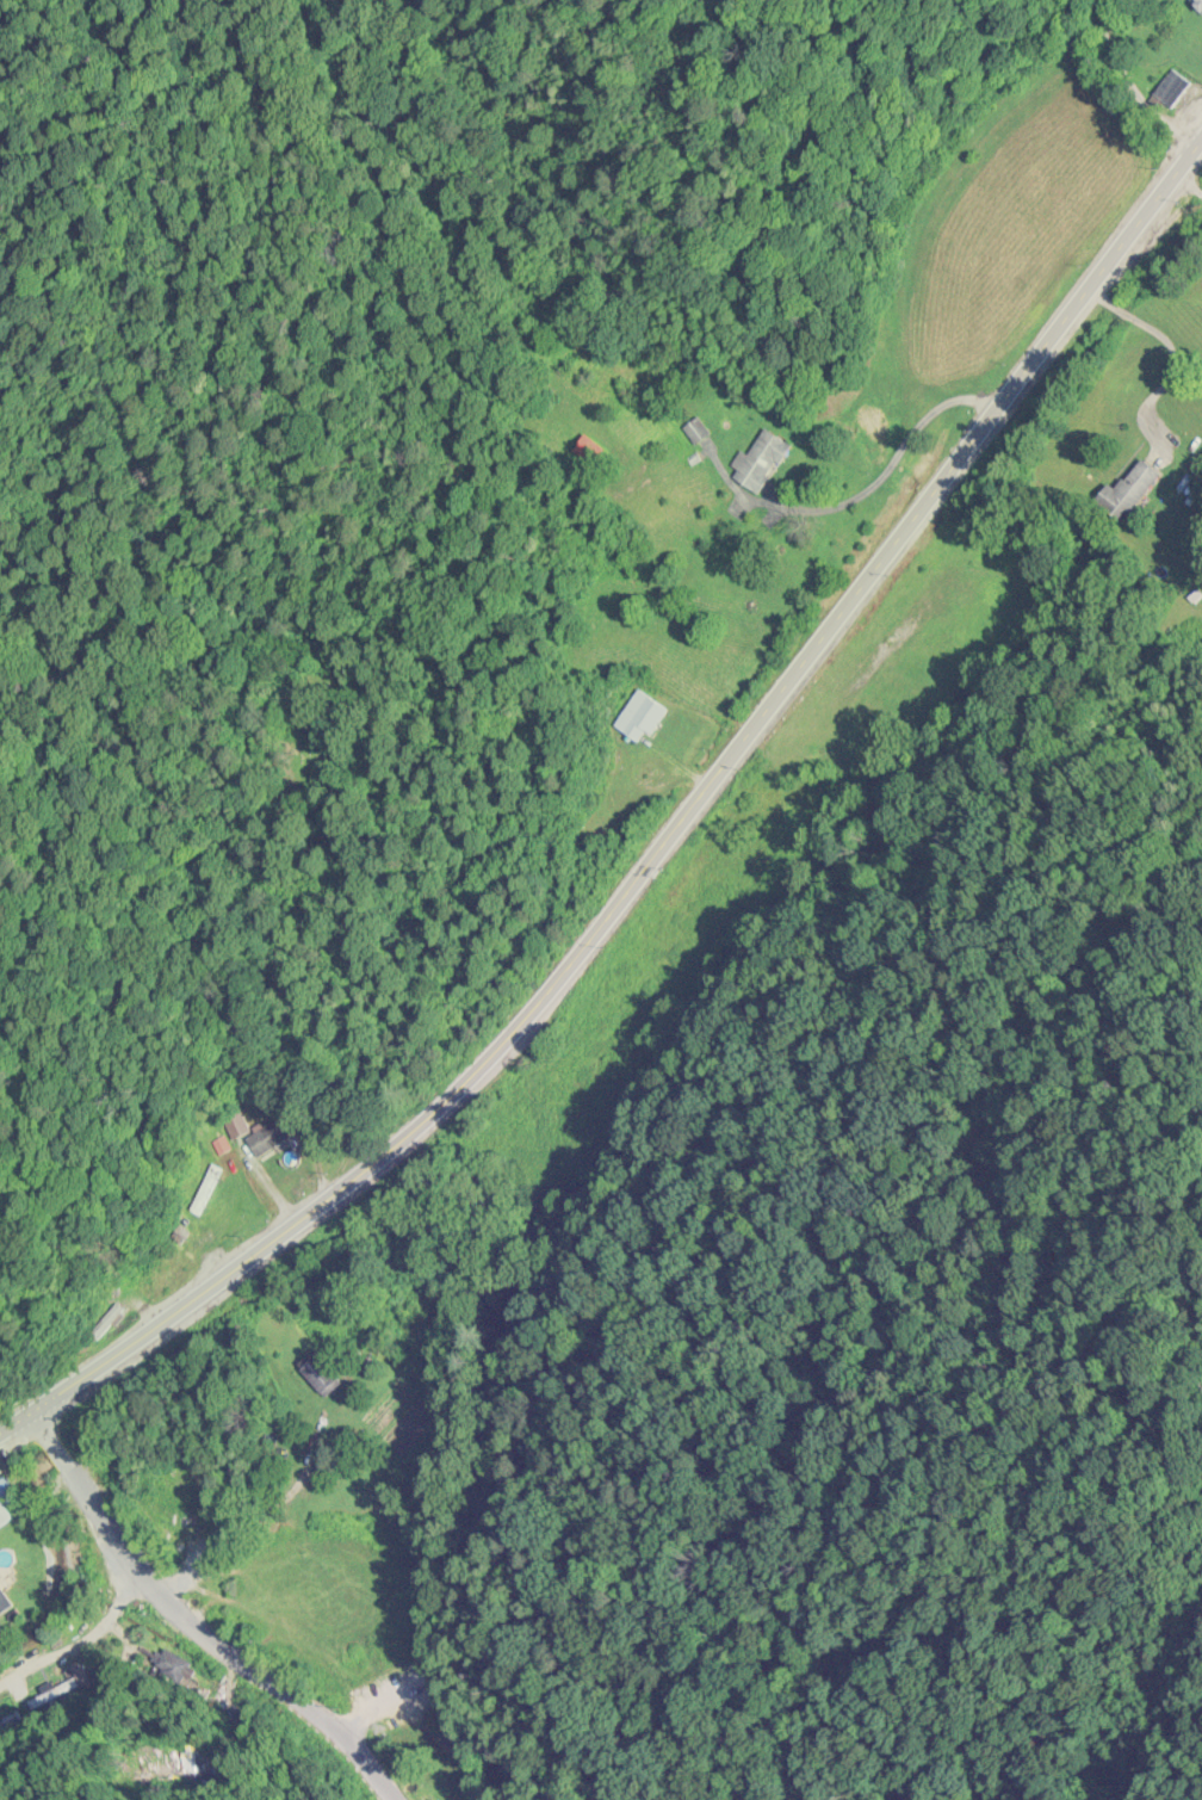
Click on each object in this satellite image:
building: (1197, 5)
road: (1132, 87)
building: (1172, 91)
building: (760, 463)
building: (1132, 490)
building: (642, 717)
road: (659, 853)
building: (274, 1142)
building: (317, 1380)
building: (6, 1504)
building: (4, 1604)
road: (194, 1629)
road: (81, 1639)
building: (107, 1672)
building: (54, 1695)
building: (10, 1725)

